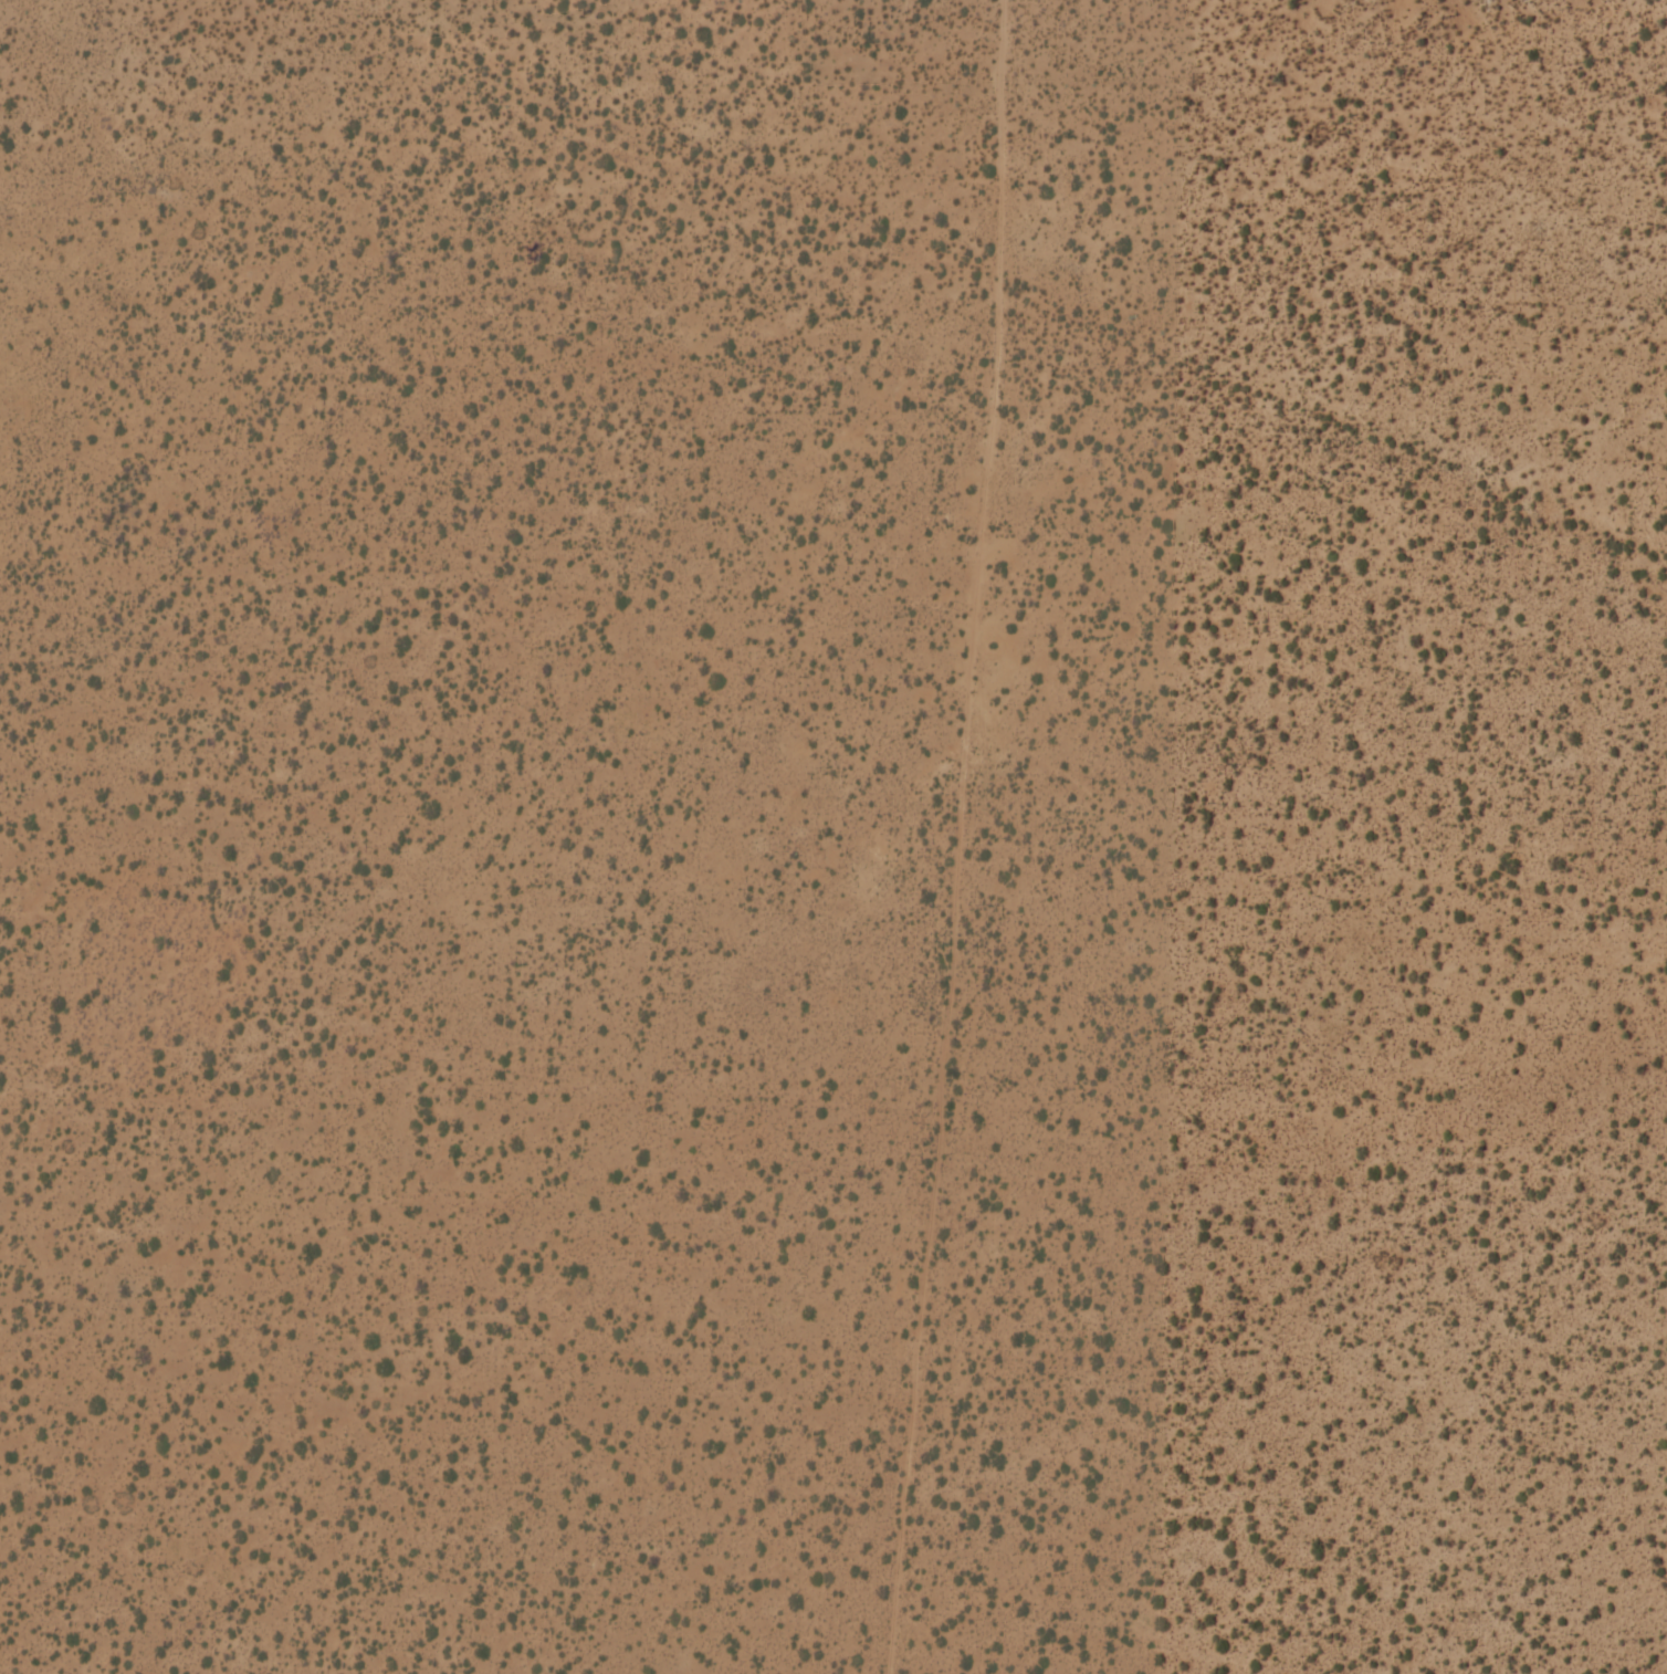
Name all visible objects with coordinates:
road: (971, 838)

